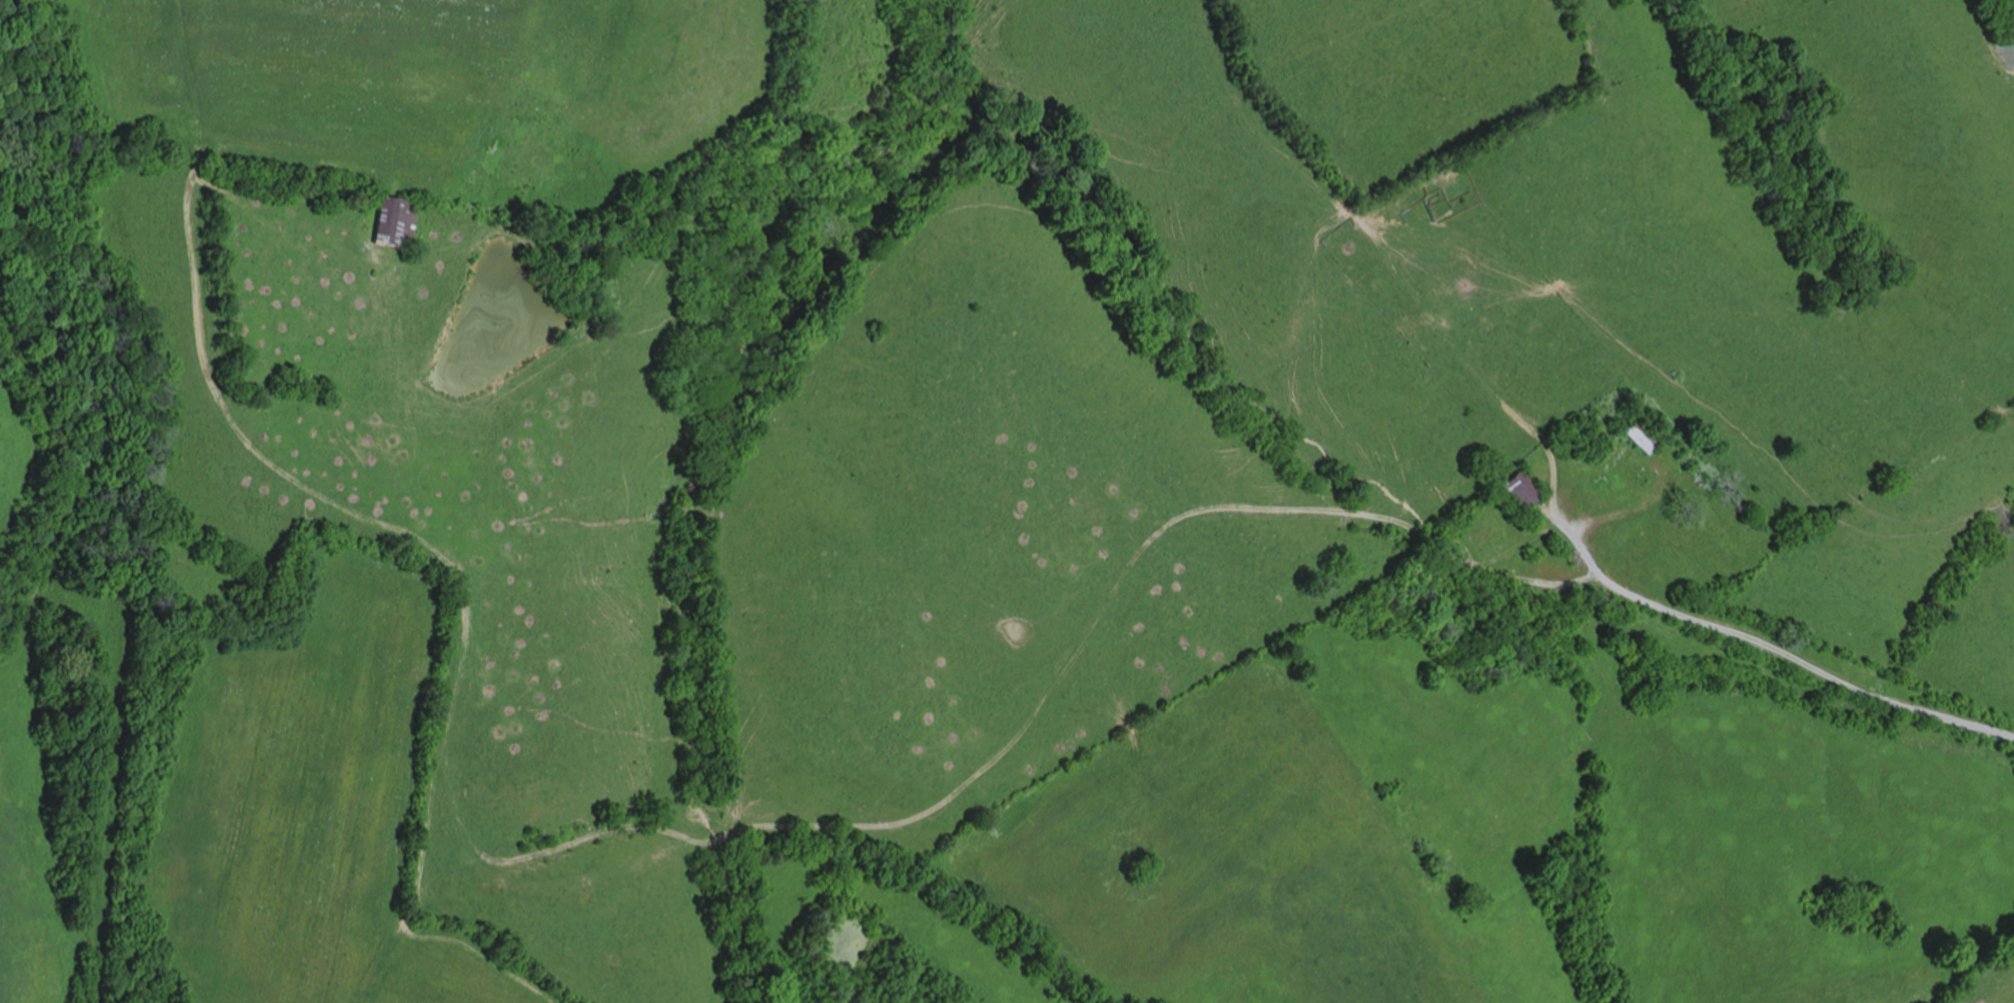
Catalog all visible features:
building: (1398, 170)
building: (404, 223)
building: (1648, 436)
building: (1528, 488)
road: (1778, 648)

